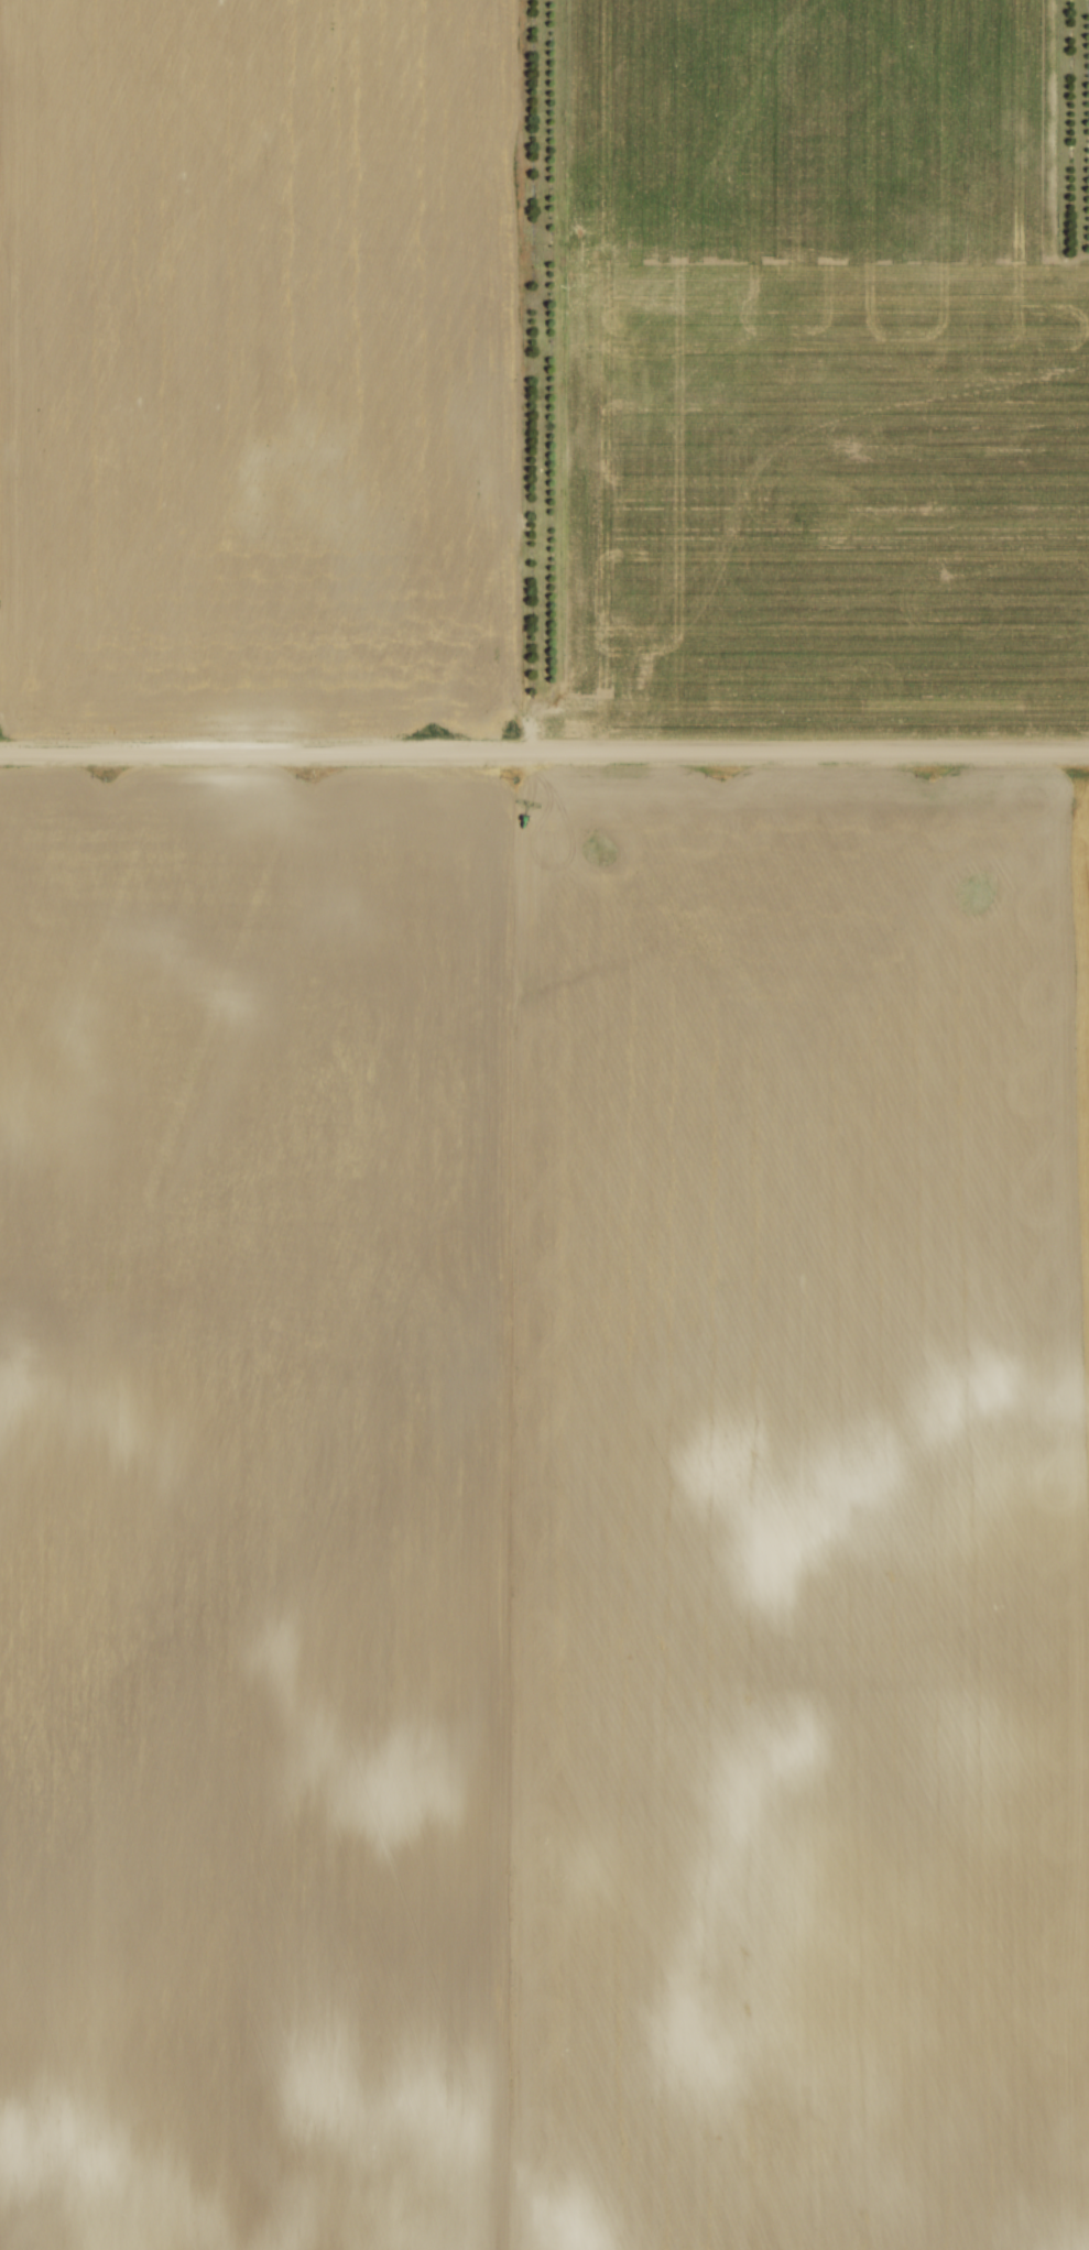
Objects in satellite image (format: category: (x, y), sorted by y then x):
crop: (823, 480)
road: (544, 756)
crop: (544, 1516)

